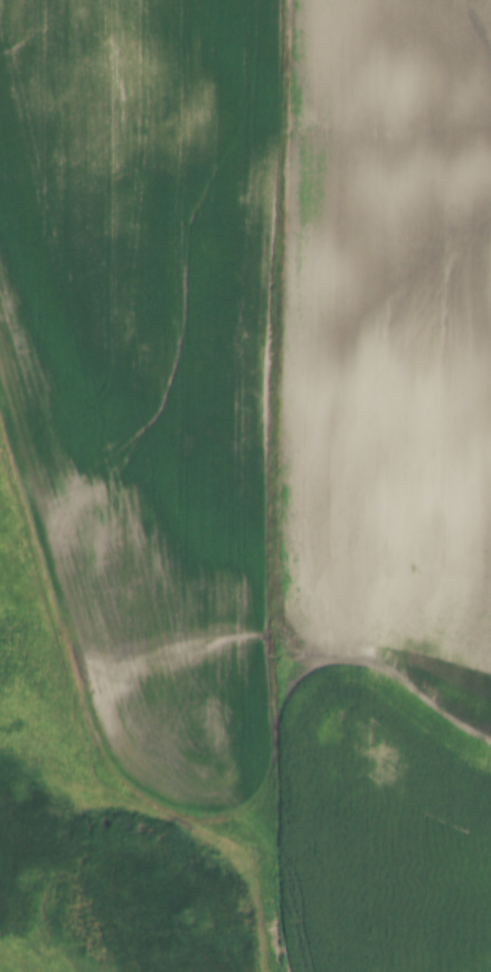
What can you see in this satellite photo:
river: (141, 858)

